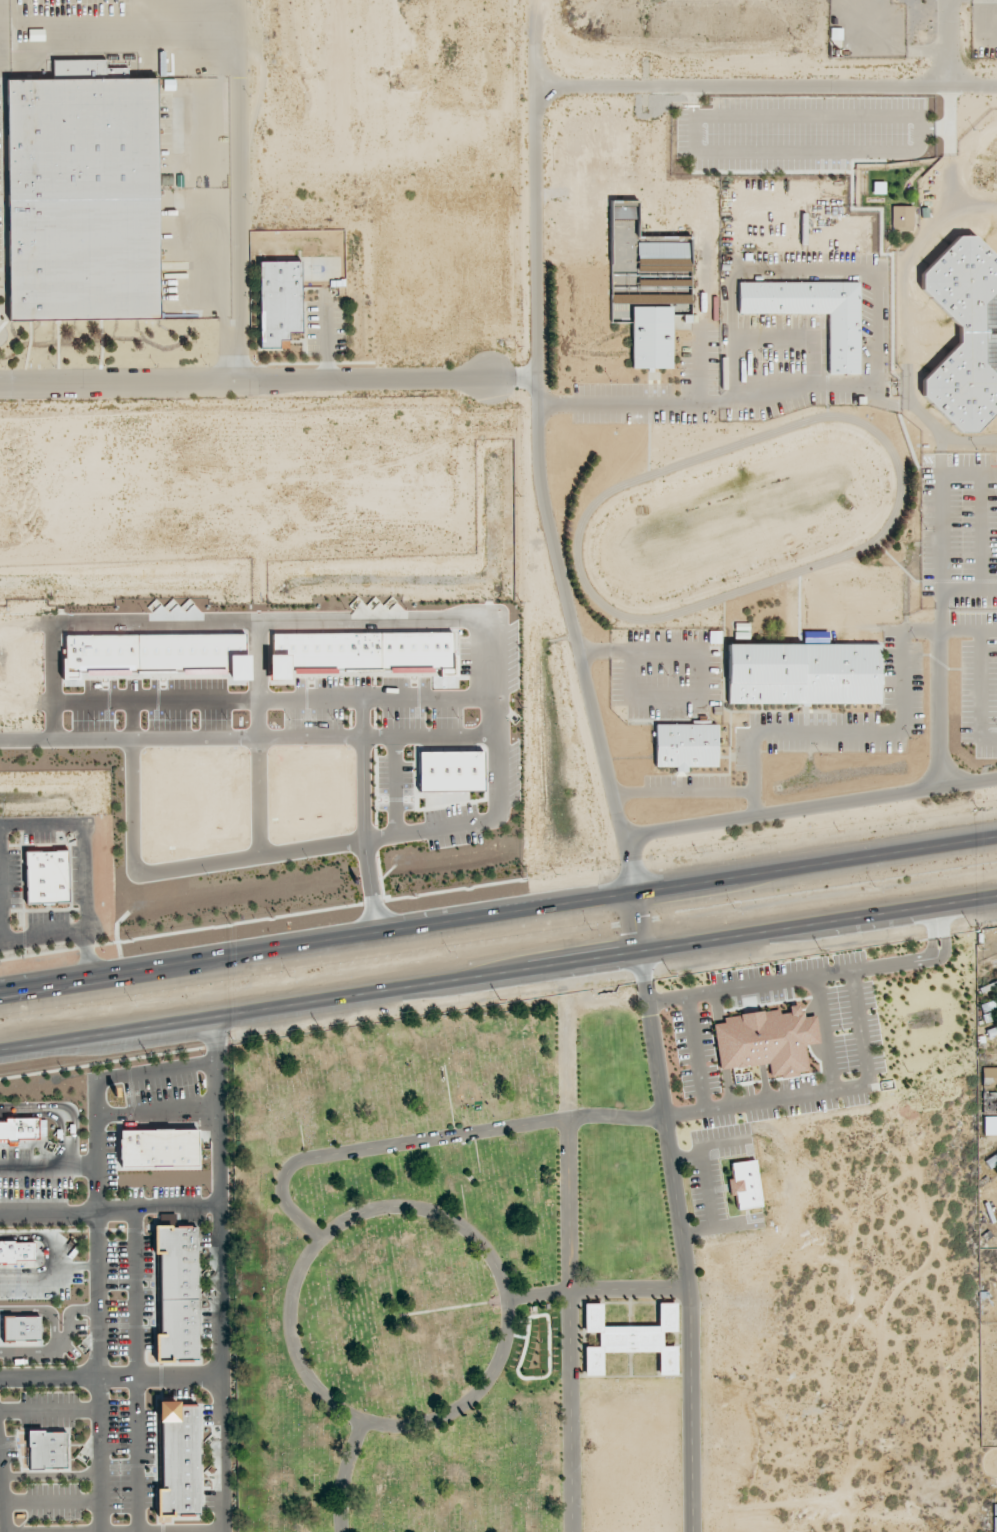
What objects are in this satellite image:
road: (764, 88)
road: (237, 173)
building: (82, 195)
building: (902, 218)
road: (210, 274)
building: (647, 284)
building: (279, 301)
building: (814, 313)
building: (966, 329)
road: (795, 338)
road: (872, 362)
road: (232, 363)
road: (699, 363)
road: (267, 383)
road: (537, 459)
road: (967, 475)
road: (980, 532)
road: (967, 589)
road: (939, 632)
road: (948, 632)
building: (359, 652)
building: (803, 673)
road: (979, 681)
road: (832, 735)
road: (277, 744)
building: (686, 746)
building: (450, 771)
road: (681, 792)
road: (809, 810)
road: (83, 836)
building: (46, 877)
road: (498, 915)
road: (640, 923)
road: (15, 939)
road: (4, 941)
road: (87, 953)
road: (498, 974)
building: (988, 1004)
building: (989, 1016)
building: (991, 1030)
building: (766, 1041)
road: (136, 1072)
building: (989, 1077)
building: (989, 1103)
road: (53, 1115)
building: (990, 1125)
building: (23, 1129)
building: (158, 1149)
building: (991, 1161)
building: (745, 1184)
road: (99, 1189)
building: (991, 1190)
road: (566, 1248)
building: (17, 1252)
park: (497, 1266)
building: (178, 1293)
building: (21, 1328)
building: (630, 1339)
building: (47, 1449)
building: (179, 1460)

